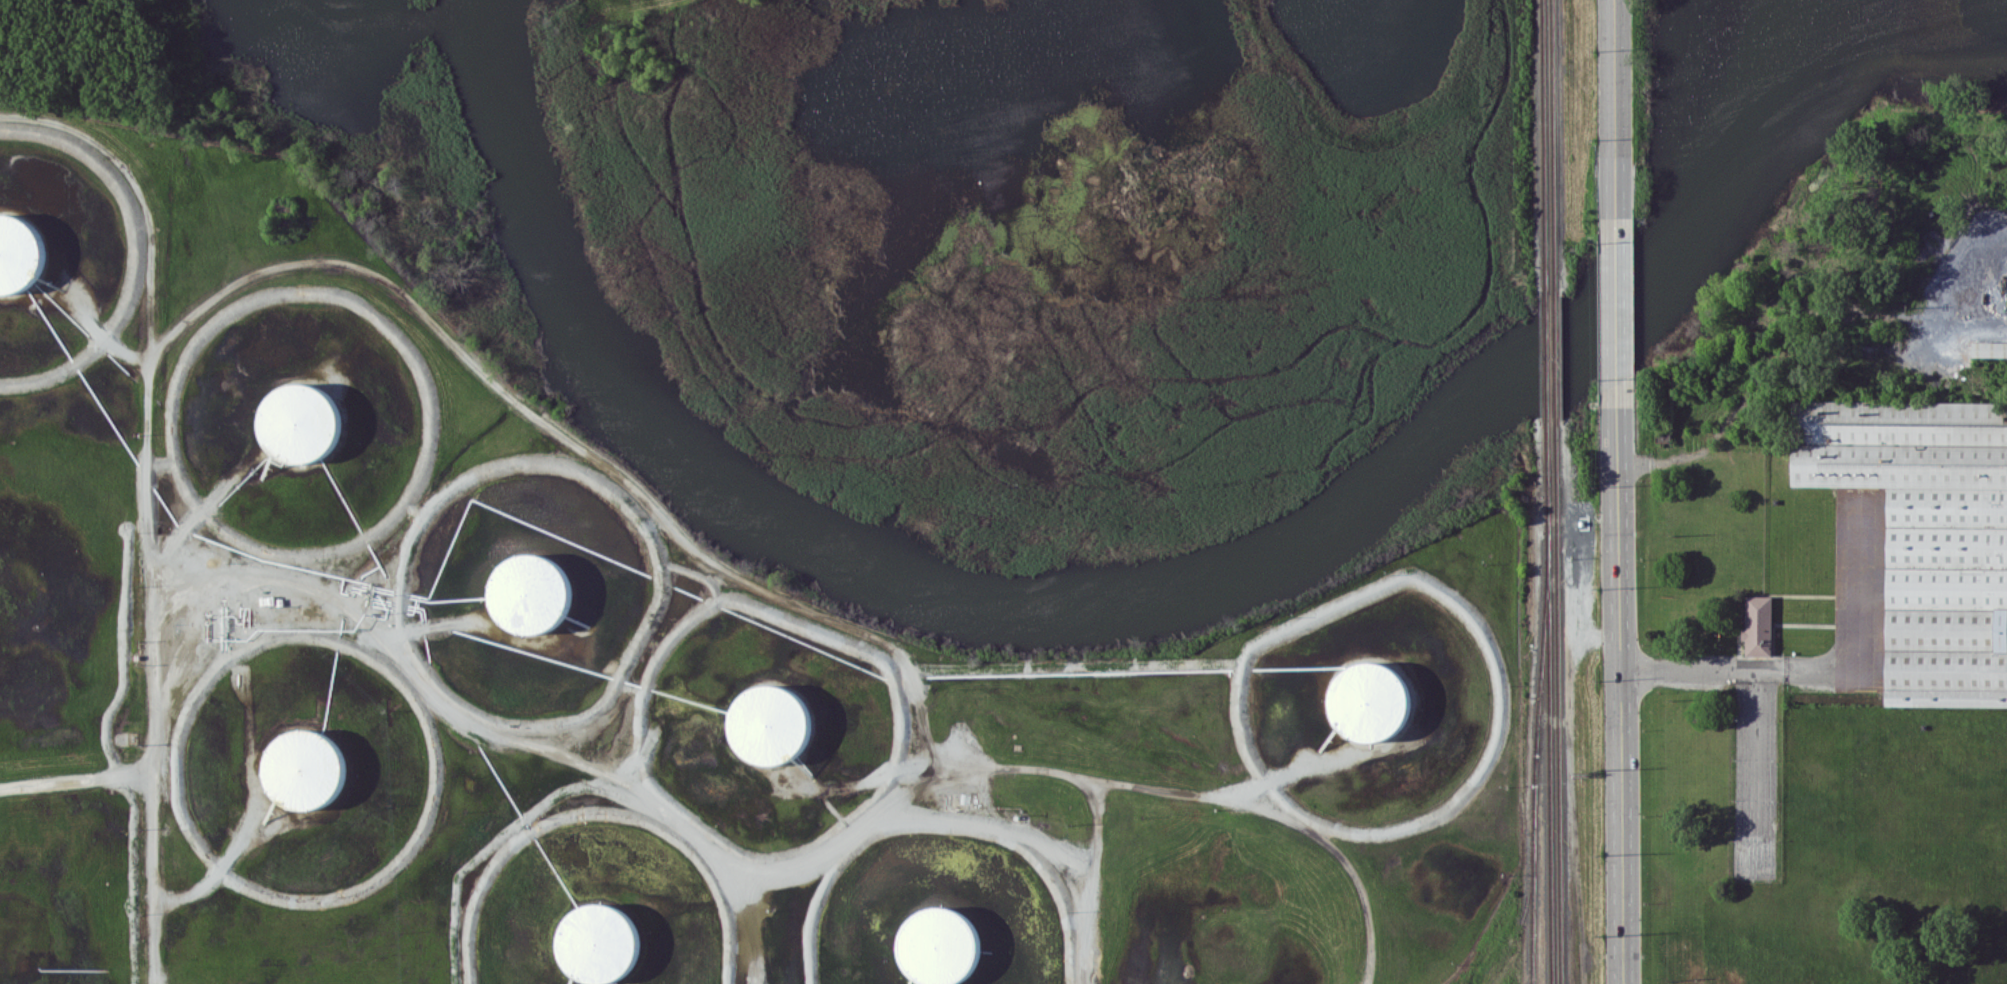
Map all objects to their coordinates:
road: (1610, 122)
railway: (1553, 149)
railway: (1543, 151)
building: (19, 244)
road: (125, 248)
road: (417, 308)
road: (1614, 320)
road: (100, 332)
road: (399, 332)
building: (1988, 347)
railway: (1555, 359)
railway: (1545, 364)
road: (9, 379)
building: (292, 420)
road: (1719, 431)
road: (197, 505)
road: (210, 517)
building: (1925, 534)
road: (656, 565)
building: (531, 580)
river: (1103, 598)
road: (1314, 617)
road: (403, 620)
building: (1759, 624)
road: (1823, 672)
road: (1615, 690)
building: (1367, 700)
railway: (1558, 702)
railway: (1549, 704)
road: (896, 709)
building: (768, 711)
road: (164, 731)
railway: (1536, 757)
road: (564, 761)
building: (303, 763)
road: (639, 765)
road: (1299, 771)
parking lot: (1754, 777)
road: (71, 784)
road: (1124, 786)
road: (441, 807)
road: (1422, 818)
road: (600, 834)
road: (944, 842)
road: (212, 863)
building: (595, 940)
building: (939, 942)

